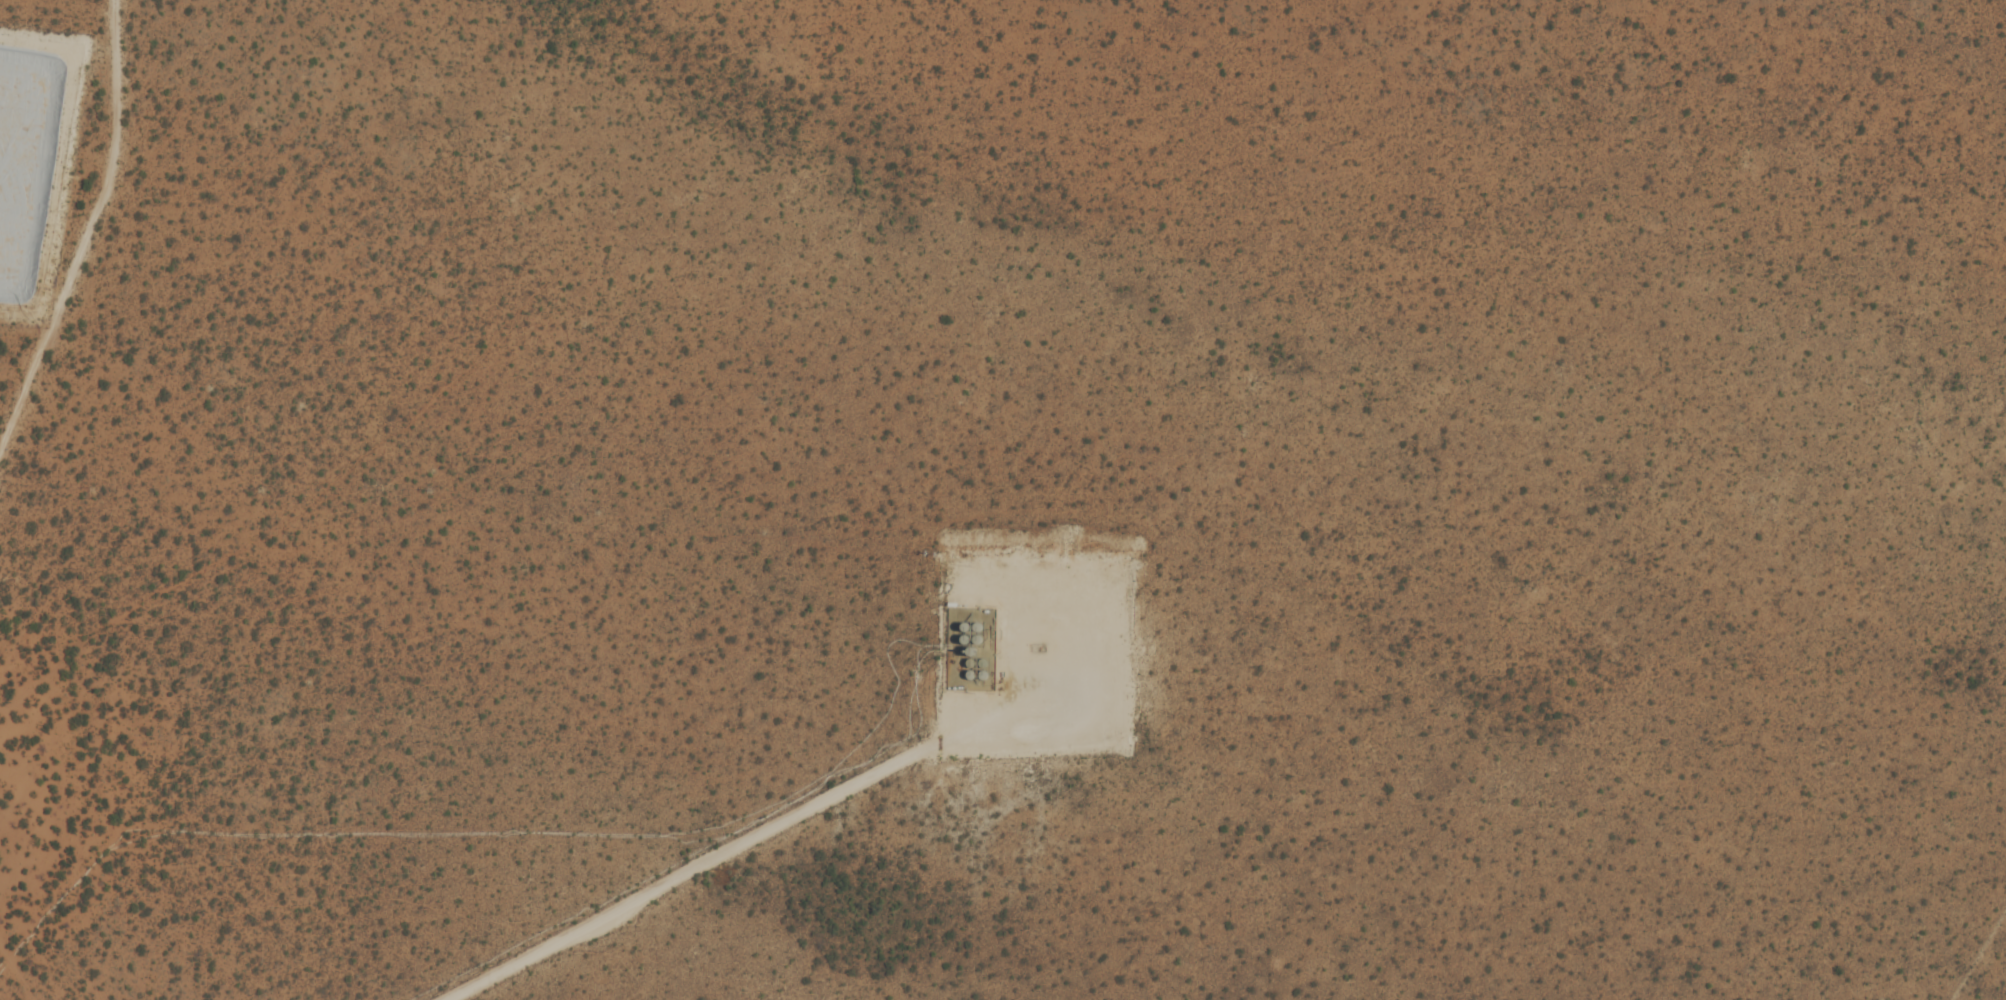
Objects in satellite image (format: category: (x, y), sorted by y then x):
road: (95, 244)
road: (723, 860)

